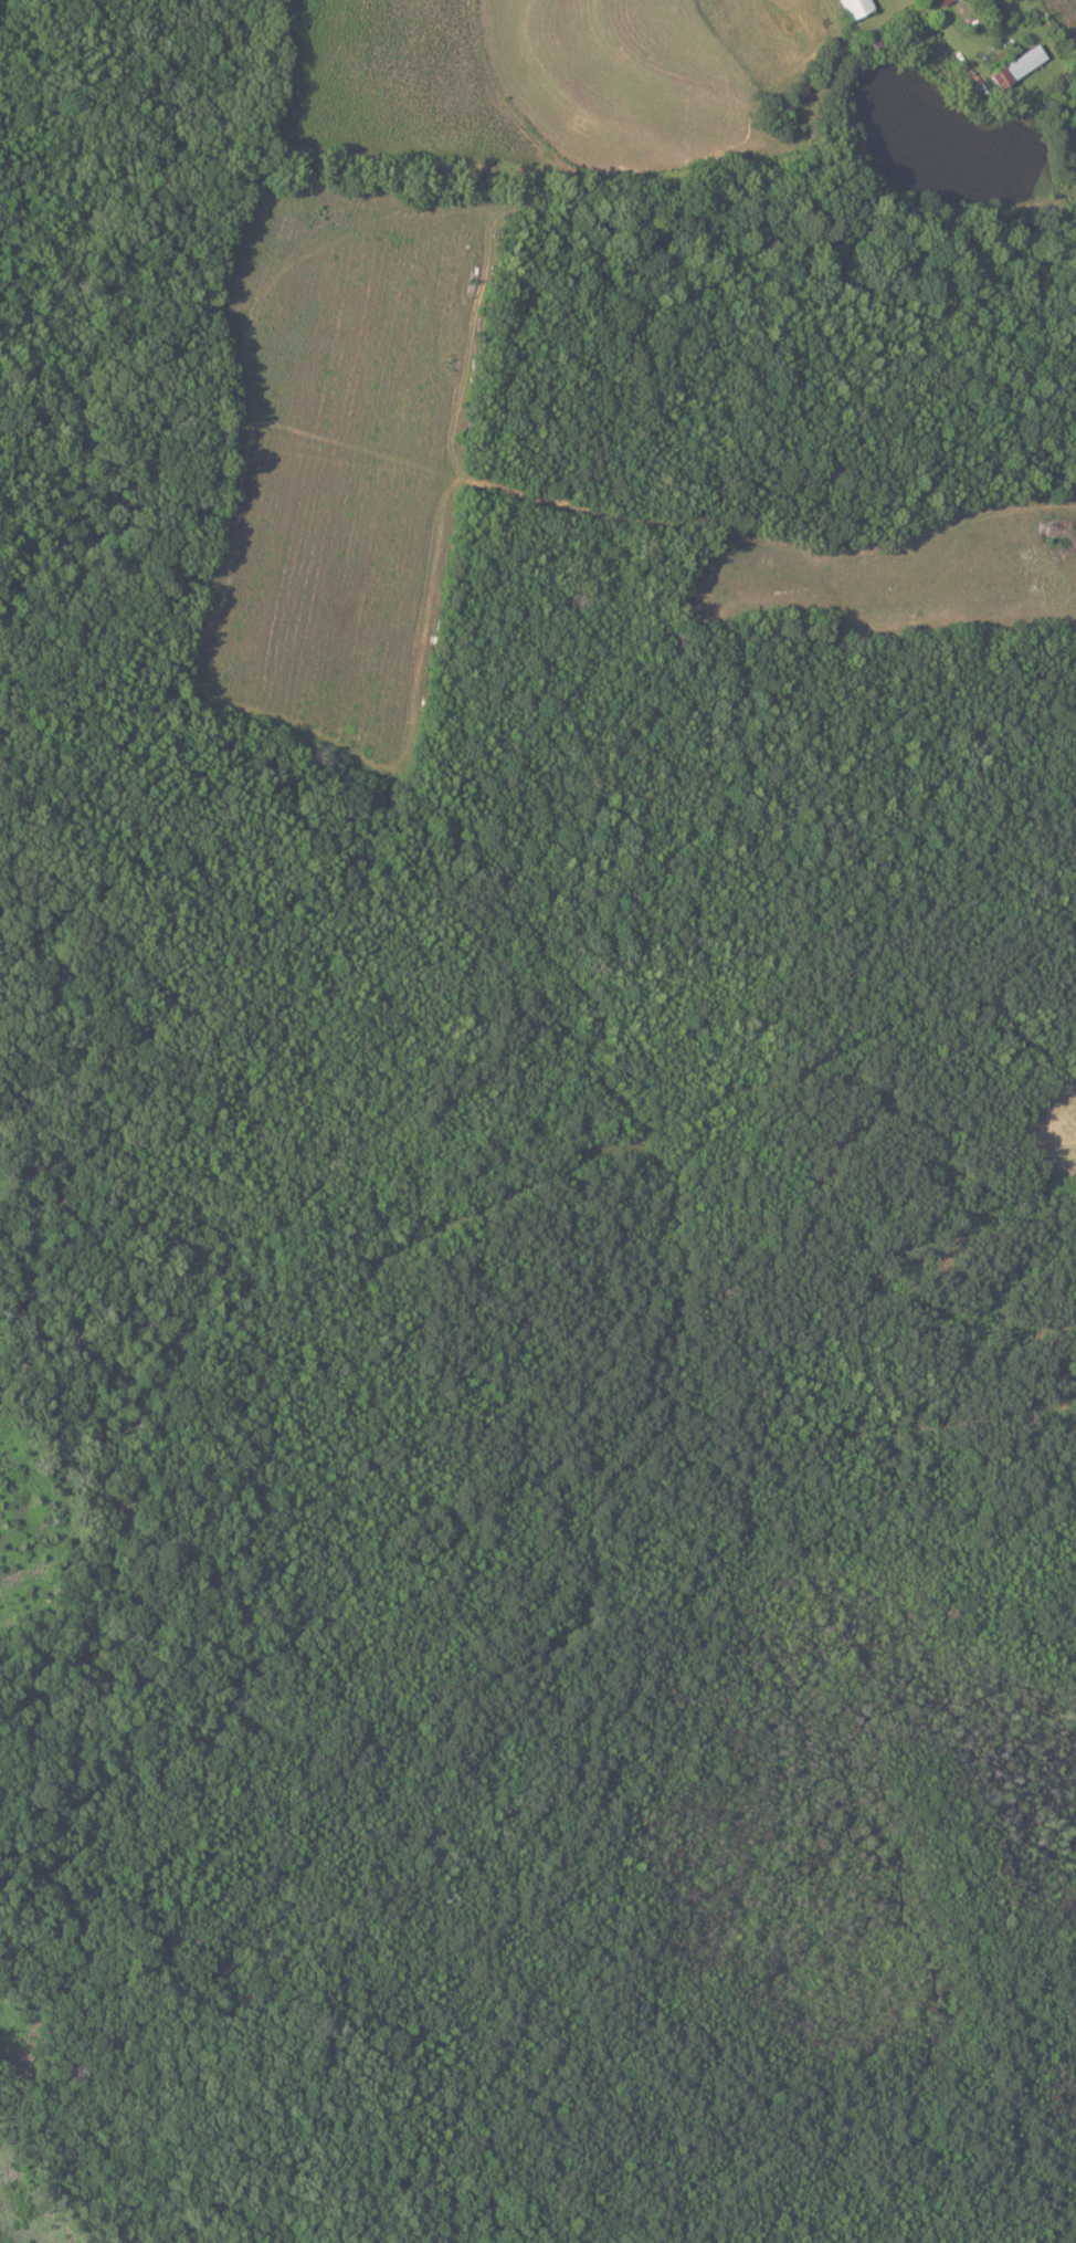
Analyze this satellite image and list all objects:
building: (954, 1)
building: (848, 7)
building: (1013, 65)
building: (789, 99)

